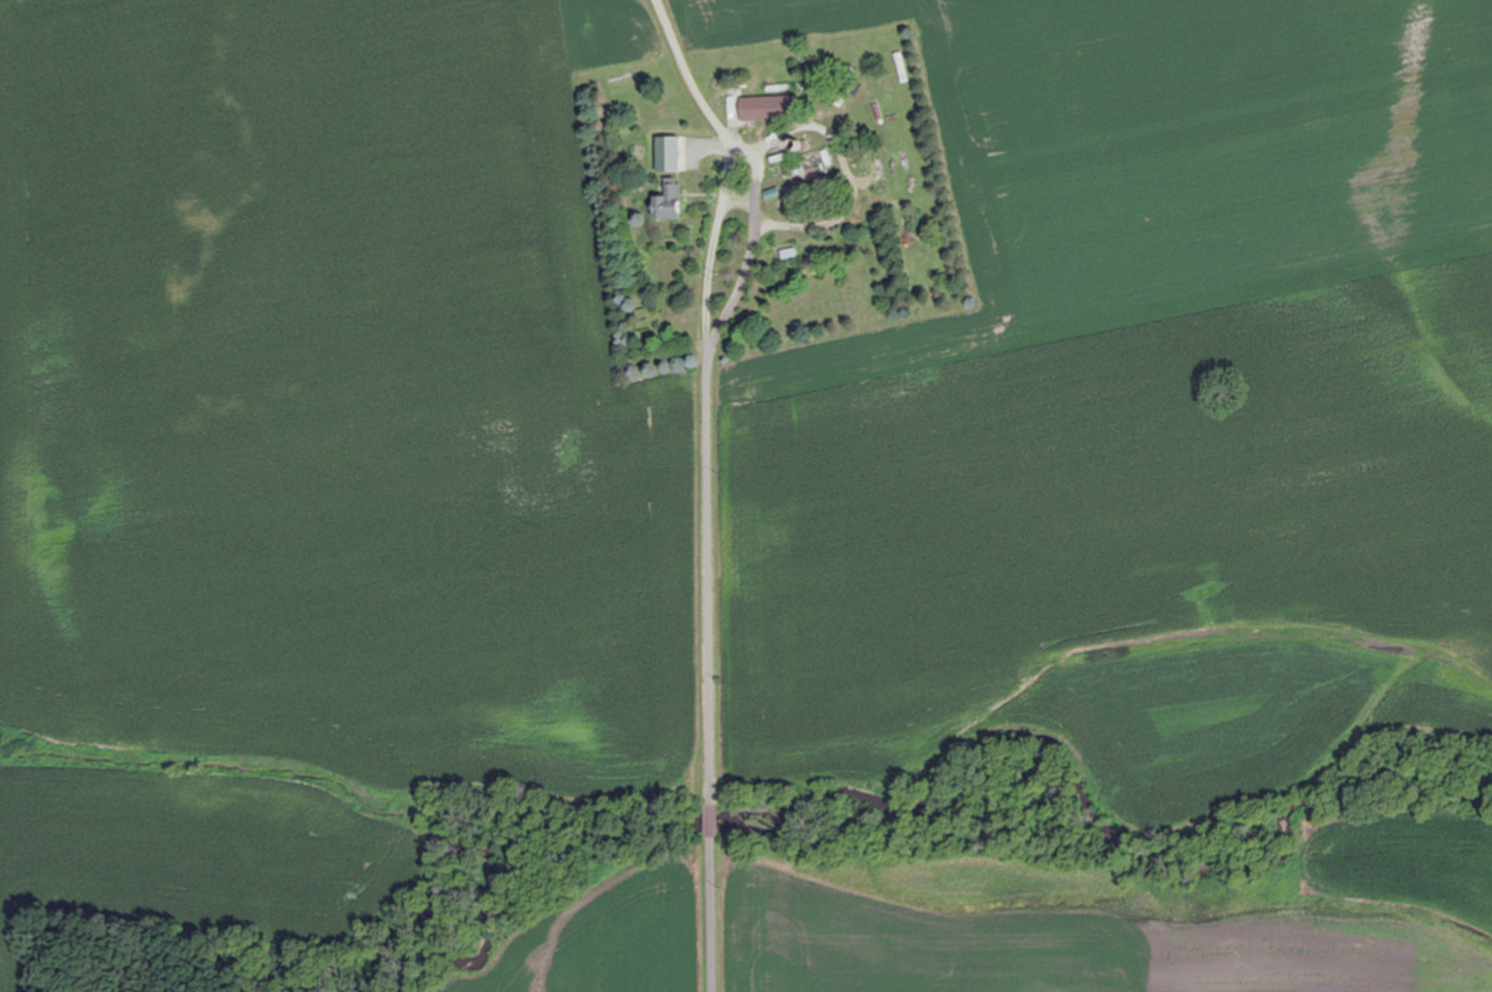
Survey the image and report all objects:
building: (670, 114)
road: (833, 137)
road: (758, 188)
building: (672, 202)
road: (712, 675)

